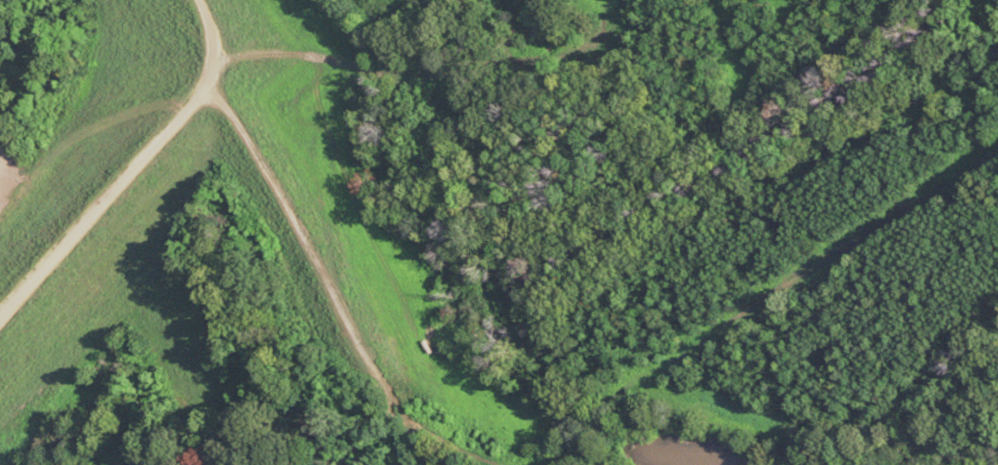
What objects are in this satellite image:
road: (435, 77)
road: (133, 170)
road: (334, 304)
road: (764, 304)
road: (403, 443)
road: (413, 444)

